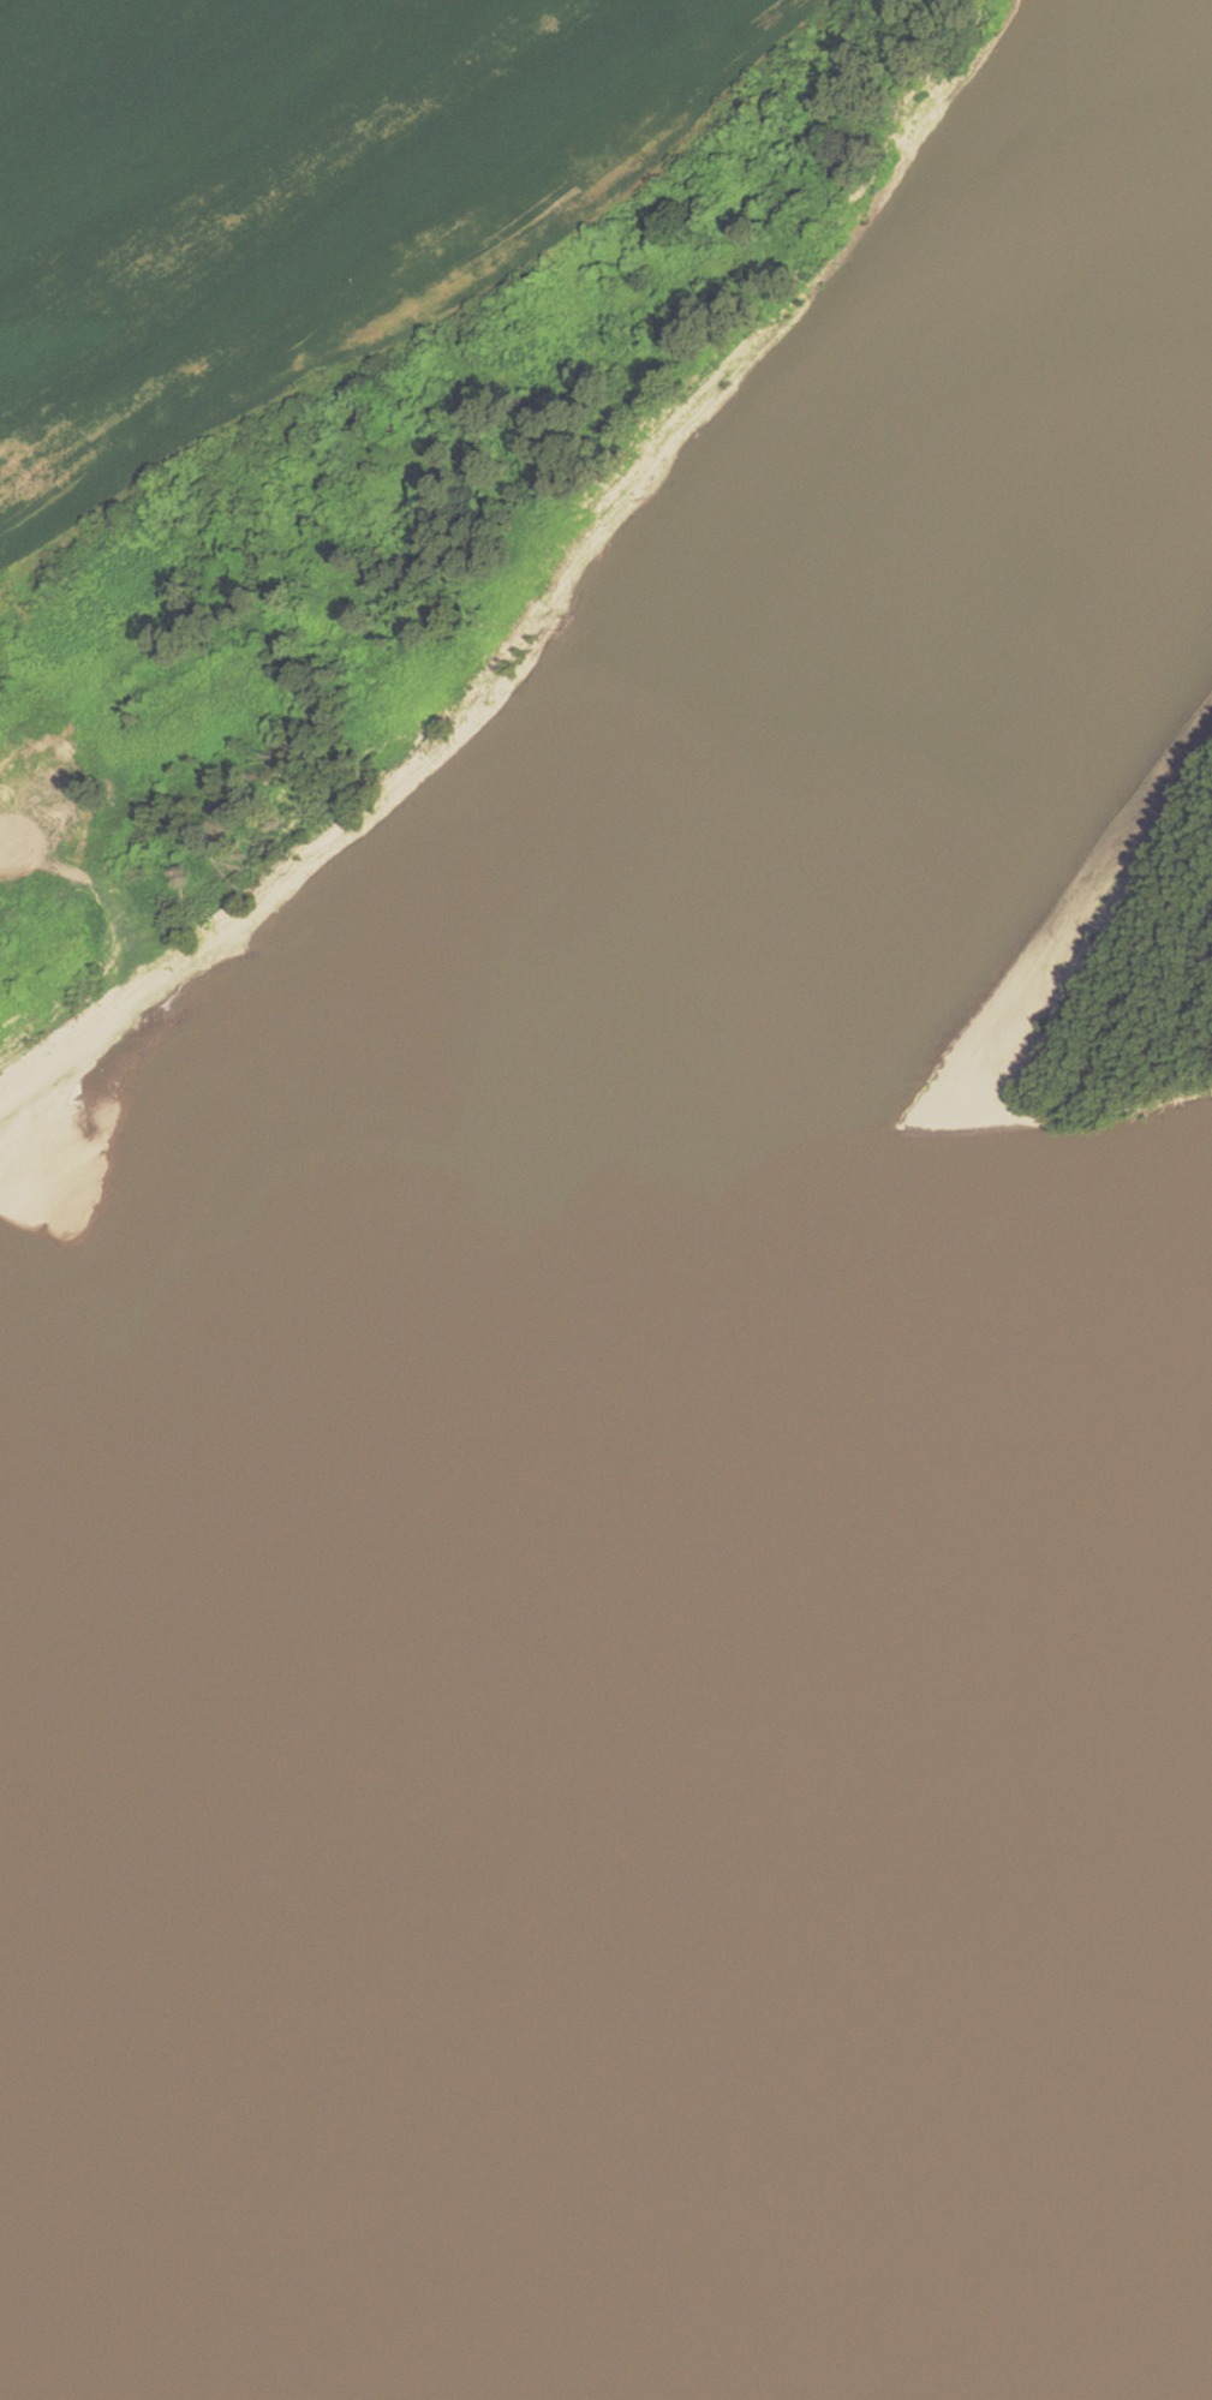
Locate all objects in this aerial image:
river: (1095, 2326)

